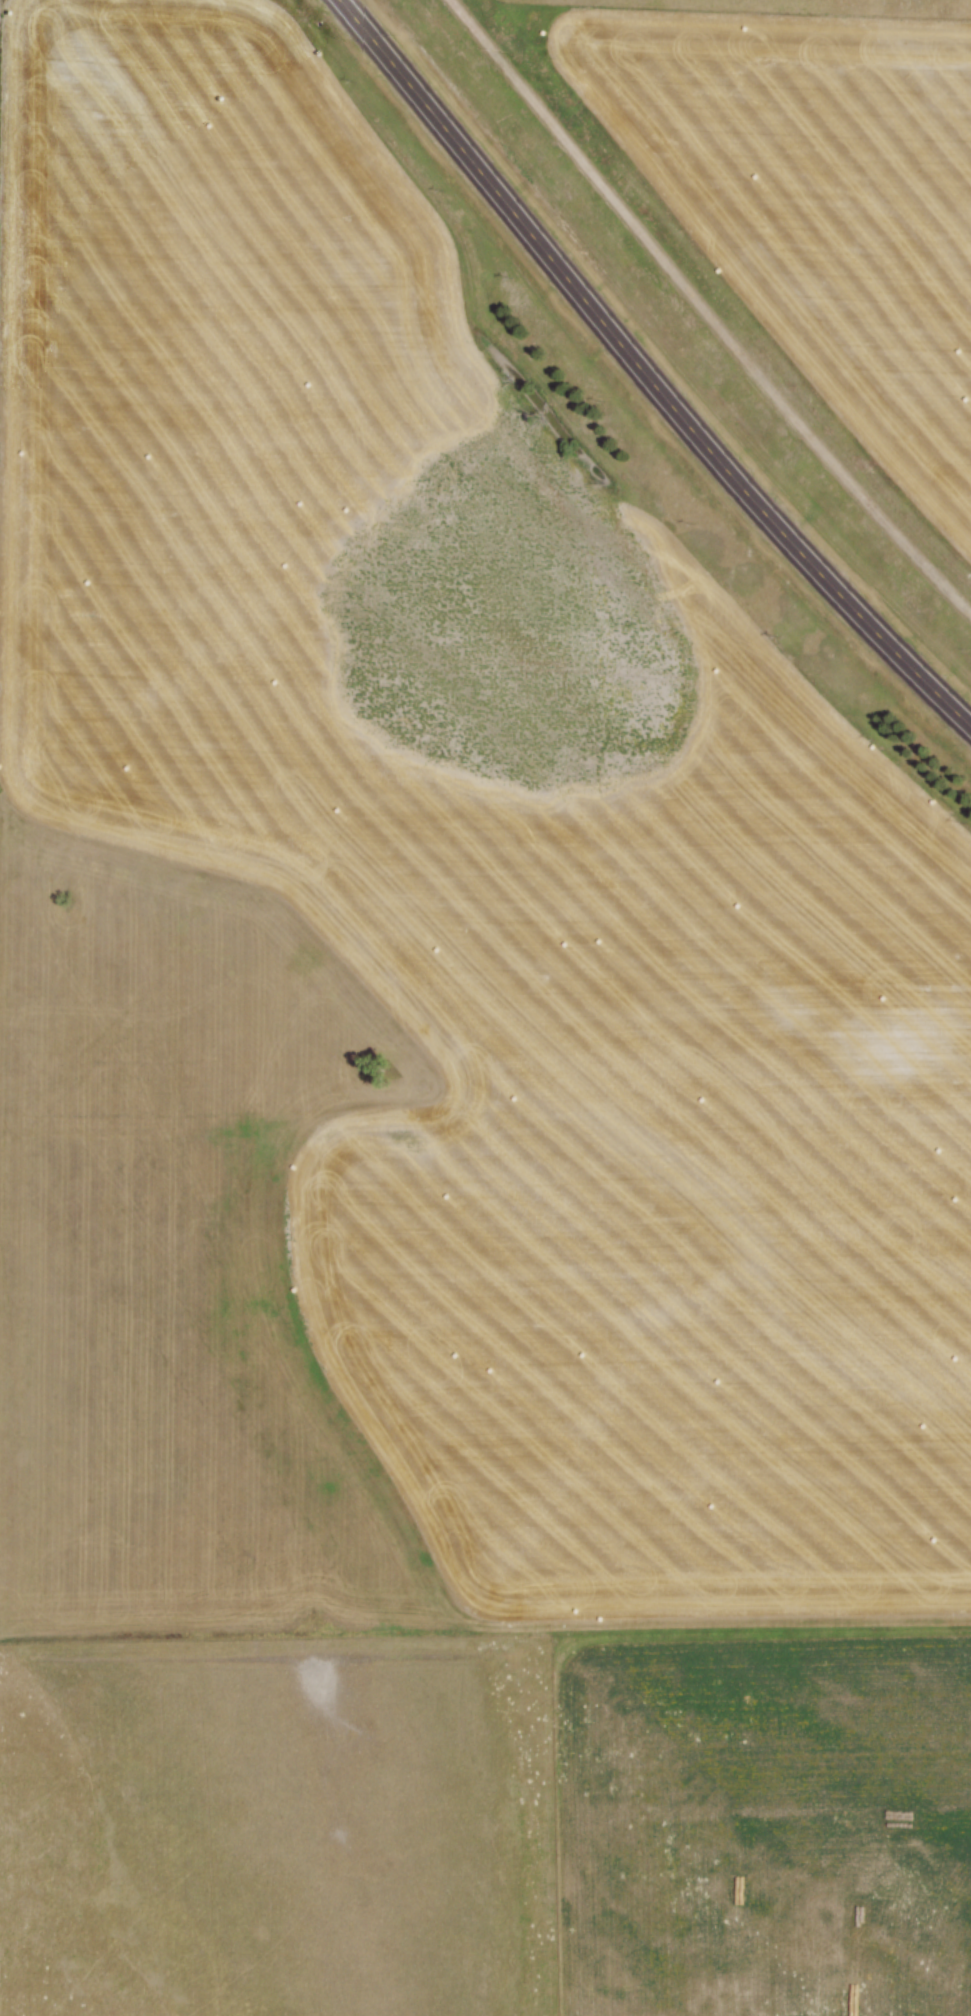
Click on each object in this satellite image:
road: (712, 309)
road: (645, 372)

